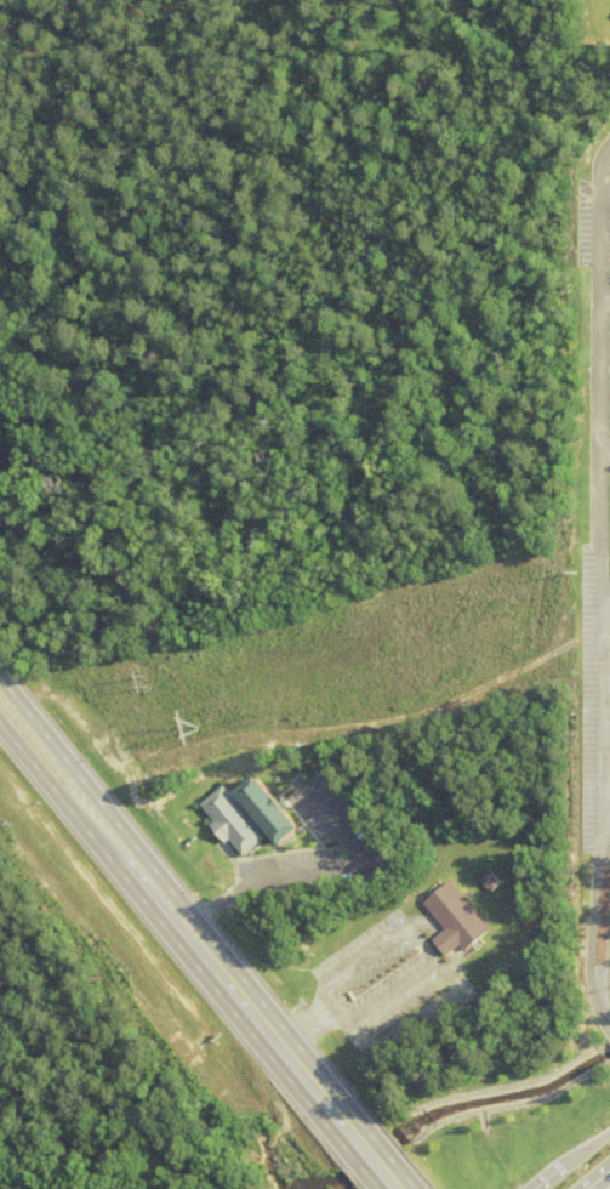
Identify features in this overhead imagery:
road: (594, 216)
road: (603, 294)
road: (597, 445)
road: (603, 449)
road: (604, 597)
road: (599, 716)
power tower: (194, 728)
road: (96, 800)
road: (605, 807)
building: (228, 824)
road: (90, 827)
road: (309, 869)
building: (452, 920)
road: (593, 931)
road: (424, 946)
road: (302, 1034)
road: (273, 1041)
road: (371, 1161)
road: (576, 1162)
road: (595, 1177)
road: (386, 1179)

